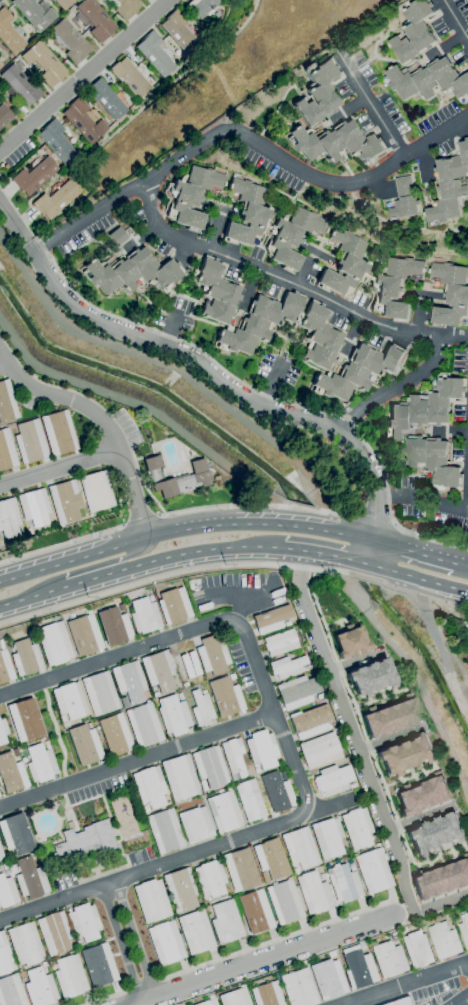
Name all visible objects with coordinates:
building: (64, 3)
building: (202, 7)
building: (127, 8)
building: (34, 13)
road: (454, 19)
building: (94, 20)
building: (179, 32)
building: (415, 32)
building: (9, 34)
building: (70, 41)
building: (154, 54)
building: (44, 63)
building: (0, 65)
road: (80, 74)
building: (129, 77)
building: (429, 80)
building: (20, 85)
building: (318, 92)
building: (106, 99)
road: (372, 106)
building: (4, 116)
building: (83, 121)
road: (245, 139)
building: (57, 142)
building: (338, 144)
building: (34, 176)
building: (449, 187)
building: (190, 196)
building: (405, 199)
building: (55, 200)
building: (248, 213)
road: (13, 225)
building: (117, 236)
building: (292, 236)
road: (30, 249)
building: (344, 264)
building: (131, 272)
road: (278, 279)
building: (395, 287)
building: (216, 292)
building: (452, 294)
building: (258, 322)
road: (172, 328)
road: (454, 334)
building: (319, 337)
road: (181, 341)
road: (3, 359)
building: (359, 371)
road: (272, 382)
road: (393, 388)
road: (236, 393)
building: (7, 402)
building: (425, 408)
road: (346, 418)
road: (101, 419)
building: (58, 432)
building: (30, 441)
building: (6, 451)
building: (434, 461)
road: (60, 467)
building: (198, 476)
building: (96, 492)
road: (399, 496)
building: (65, 501)
road: (258, 506)
building: (34, 507)
road: (458, 507)
road: (389, 508)
road: (374, 514)
building: (8, 518)
road: (140, 521)
road: (181, 529)
building: (0, 540)
road: (61, 545)
road: (415, 552)
road: (316, 554)
road: (464, 564)
road: (142, 565)
road: (83, 569)
road: (169, 575)
road: (414, 578)
road: (401, 591)
road: (237, 593)
building: (151, 598)
road: (9, 604)
building: (173, 605)
road: (241, 608)
road: (463, 608)
building: (144, 616)
building: (272, 619)
building: (287, 623)
building: (114, 627)
building: (29, 631)
building: (84, 634)
building: (31, 638)
building: (280, 642)
building: (349, 642)
building: (54, 643)
building: (210, 657)
building: (26, 658)
building: (186, 665)
building: (313, 665)
building: (5, 666)
building: (287, 667)
building: (159, 671)
building: (232, 676)
building: (370, 677)
building: (129, 682)
building: (185, 684)
building: (297, 691)
building: (99, 694)
building: (156, 695)
building: (180, 696)
building: (319, 696)
building: (226, 697)
building: (69, 701)
building: (124, 702)
building: (201, 708)
building: (173, 715)
building: (389, 717)
building: (62, 718)
building: (25, 720)
building: (310, 721)
building: (143, 725)
building: (2, 732)
road: (54, 733)
building: (115, 735)
building: (84, 743)
building: (46, 744)
building: (262, 750)
road: (289, 750)
building: (320, 750)
building: (15, 753)
building: (407, 754)
building: (233, 757)
road: (362, 759)
road: (137, 760)
building: (40, 763)
building: (210, 767)
building: (256, 770)
building: (11, 774)
building: (180, 778)
building: (333, 780)
building: (352, 785)
building: (149, 788)
building: (278, 792)
building: (423, 795)
building: (250, 800)
road: (330, 806)
building: (225, 812)
building: (195, 824)
building: (358, 828)
building: (164, 831)
building: (16, 834)
building: (435, 835)
building: (328, 838)
building: (85, 840)
building: (300, 848)
building: (1, 856)
building: (271, 858)
building: (351, 866)
building: (5, 868)
building: (320, 869)
building: (241, 870)
building: (296, 871)
building: (373, 871)
building: (264, 877)
building: (322, 877)
building: (30, 878)
building: (210, 879)
building: (440, 880)
building: (344, 884)
building: (180, 890)
building: (7, 892)
building: (314, 893)
building: (151, 901)
road: (392, 901)
building: (284, 902)
building: (255, 912)
building: (225, 922)
building: (83, 923)
building: (418, 923)
building: (454, 926)
building: (465, 926)
building: (425, 928)
building: (195, 931)
building: (54, 933)
building: (393, 937)
road: (134, 940)
road: (276, 940)
building: (445, 940)
building: (165, 942)
building: (25, 944)
road: (121, 944)
building: (417, 949)
building: (5, 956)
building: (389, 959)
road: (264, 960)
building: (301, 963)
building: (43, 964)
building: (98, 965)
building: (358, 968)
building: (69, 976)
building: (327, 980)
road: (406, 983)
road: (143, 985)
building: (39, 987)
building: (298, 988)
building: (11, 991)
building: (267, 994)
building: (235, 997)
road: (106, 998)
road: (462, 1000)
building: (208, 1001)
building: (399, 1001)

